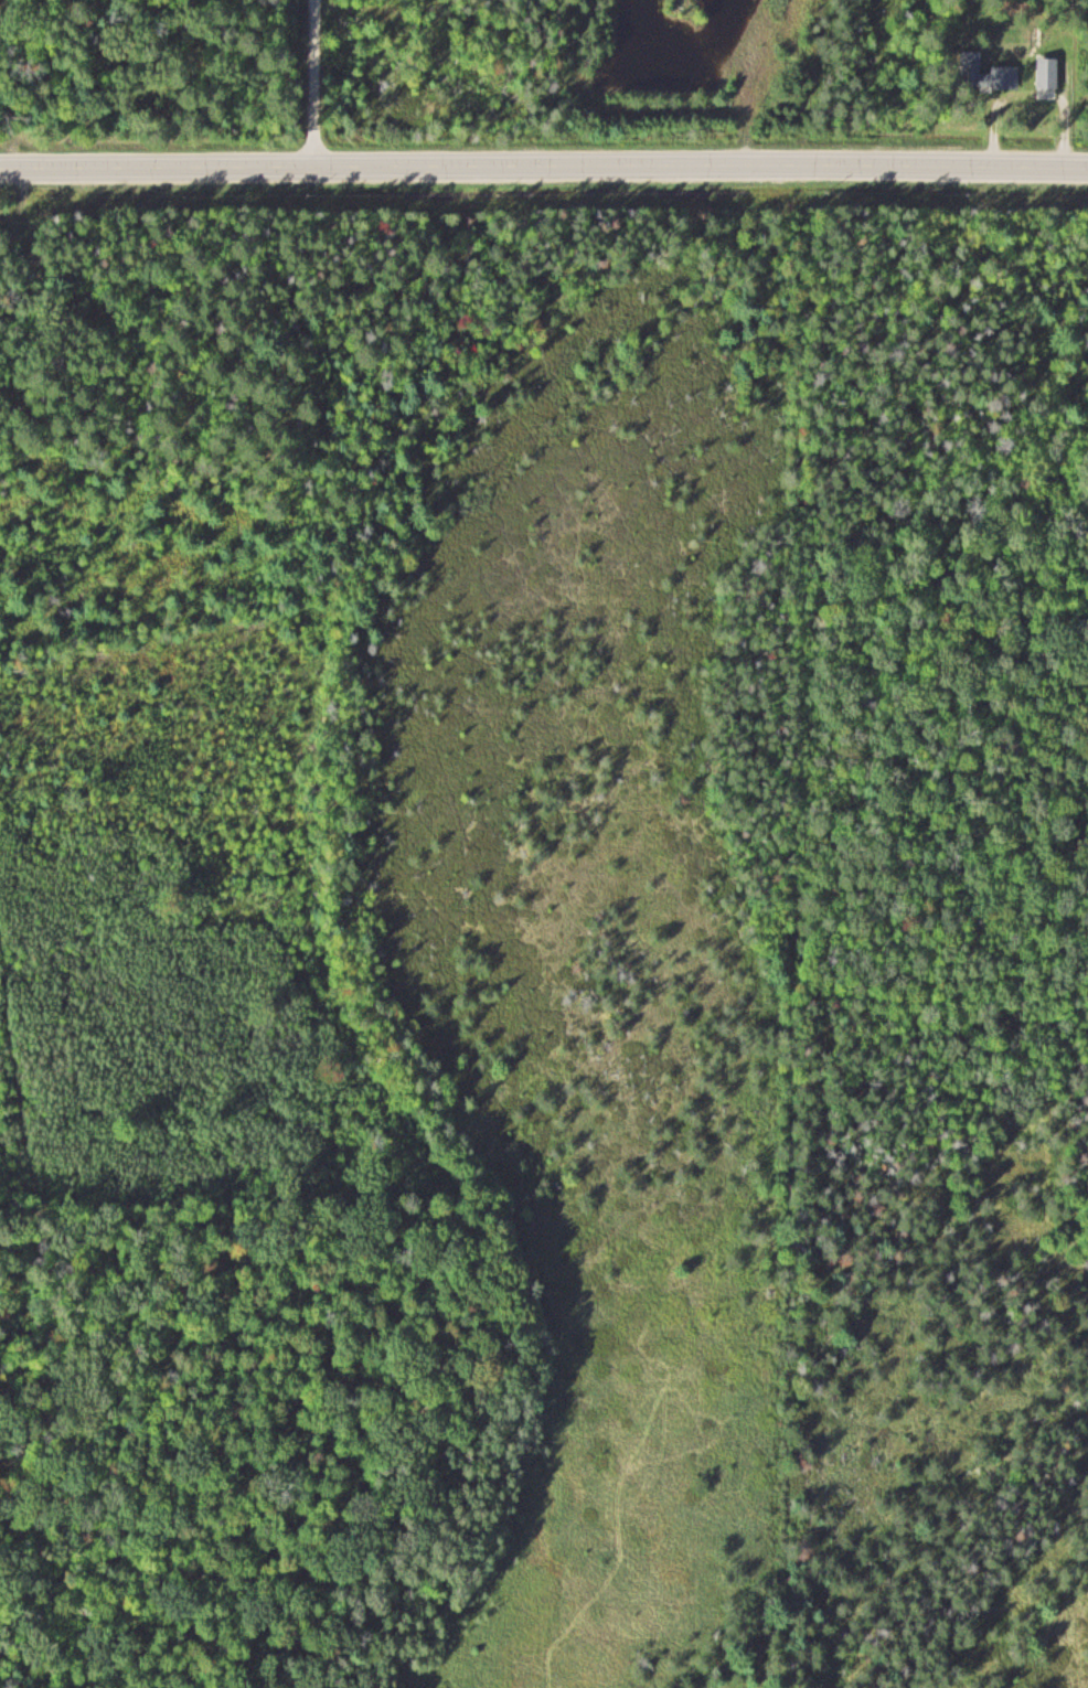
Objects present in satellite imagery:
building: (1053, 73)
building: (990, 74)
road: (319, 83)
road: (544, 165)

